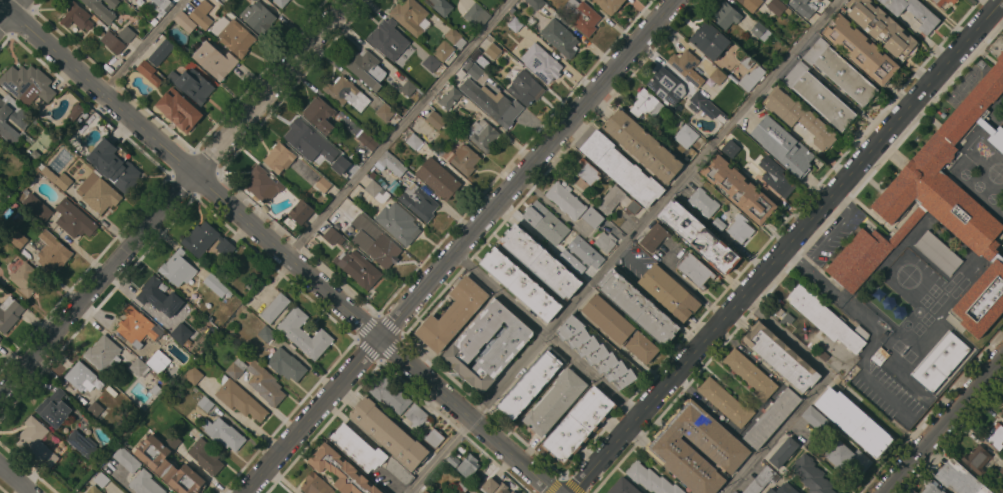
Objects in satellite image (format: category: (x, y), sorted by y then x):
building: (126, 0)
building: (251, 0)
building: (256, 0)
building: (829, 0)
building: (943, 1)
building: (112, 3)
building: (281, 3)
building: (536, 3)
building: (750, 4)
building: (163, 5)
building: (609, 5)
building: (442, 7)
building: (775, 7)
building: (803, 7)
building: (100, 10)
road: (9, 11)
building: (913, 12)
building: (201, 14)
building: (410, 15)
building: (476, 15)
building: (725, 15)
building: (582, 16)
building: (76, 17)
building: (258, 17)
building: (515, 24)
building: (189, 25)
building: (882, 27)
building: (760, 31)
building: (126, 34)
building: (385, 37)
building: (454, 37)
building: (559, 37)
building: (236, 38)
building: (709, 41)
building: (112, 42)
road: (143, 46)
building: (861, 49)
building: (443, 51)
building: (492, 51)
building: (161, 52)
building: (215, 60)
building: (430, 62)
building: (541, 63)
building: (685, 65)
building: (366, 68)
building: (145, 69)
building: (840, 71)
building: (477, 74)
building: (717, 76)
building: (751, 78)
building: (27, 84)
building: (193, 85)
building: (666, 86)
building: (524, 87)
building: (408, 88)
building: (346, 93)
building: (819, 96)
building: (449, 98)
building: (696, 101)
building: (492, 103)
building: (170, 104)
building: (645, 104)
building: (75, 112)
building: (385, 112)
building: (319, 114)
building: (800, 117)
building: (13, 118)
building: (435, 120)
road: (399, 128)
building: (481, 134)
building: (301, 136)
building: (685, 136)
building: (368, 141)
building: (414, 141)
building: (642, 145)
building: (783, 146)
building: (730, 148)
building: (279, 157)
building: (464, 159)
building: (342, 163)
building: (390, 163)
building: (114, 165)
building: (621, 169)
building: (585, 174)
building: (777, 176)
building: (56, 178)
building: (438, 178)
building: (262, 184)
building: (323, 185)
building: (739, 190)
building: (377, 191)
building: (98, 193)
road: (174, 198)
building: (611, 199)
building: (565, 200)
building: (418, 201)
building: (703, 202)
building: (37, 207)
road: (552, 207)
building: (632, 208)
road: (658, 210)
building: (939, 210)
building: (353, 211)
building: (301, 212)
building: (592, 217)
building: (74, 219)
building: (398, 223)
building: (545, 223)
building: (740, 228)
road: (833, 231)
building: (333, 236)
building: (654, 237)
building: (699, 237)
building: (18, 240)
building: (206, 240)
building: (605, 242)
road: (277, 247)
road: (462, 247)
road: (788, 247)
building: (381, 248)
building: (52, 252)
building: (585, 252)
building: (938, 252)
building: (540, 261)
building: (571, 261)
building: (178, 268)
building: (358, 268)
building: (695, 270)
building: (26, 279)
building: (216, 285)
building: (520, 285)
building: (669, 292)
building: (159, 297)
building: (638, 306)
building: (275, 307)
building: (9, 313)
building: (452, 315)
building: (825, 318)
building: (608, 319)
road: (873, 324)
building: (137, 326)
building: (181, 333)
building: (266, 334)
building: (304, 334)
road: (545, 337)
building: (0, 338)
road: (791, 342)
building: (508, 344)
building: (642, 347)
building: (595, 352)
building: (103, 354)
building: (877, 356)
building: (780, 357)
building: (158, 361)
building: (940, 362)
building: (286, 364)
building: (139, 367)
building: (235, 369)
building: (750, 374)
building: (193, 375)
building: (82, 377)
building: (265, 384)
building: (531, 384)
building: (390, 394)
building: (239, 399)
building: (555, 402)
building: (726, 402)
building: (205, 404)
building: (1002, 405)
building: (54, 408)
building: (94, 410)
building: (1002, 411)
building: (1002, 413)
building: (416, 416)
building: (772, 417)
building: (815, 418)
building: (854, 422)
building: (578, 424)
road: (943, 424)
building: (223, 433)
building: (388, 434)
building: (995, 436)
building: (434, 438)
road: (775, 439)
building: (172, 441)
building: (36, 442)
building: (82, 443)
building: (357, 448)
building: (696, 448)
building: (783, 452)
road: (439, 455)
building: (205, 456)
building: (848, 457)
building: (126, 459)
building: (977, 459)
building: (467, 463)
building: (167, 466)
building: (341, 470)
building: (399, 471)
building: (811, 475)
building: (958, 478)
road: (14, 479)
building: (99, 479)
building: (651, 479)
building: (761, 480)
building: (145, 483)
building: (315, 484)
building: (495, 486)
building: (623, 487)
building: (1002, 487)
building: (783, 489)
building: (931, 489)
building: (93, 490)
road: (113, 491)
building: (425, 491)
building: (512, 492)
building: (731, 492)

